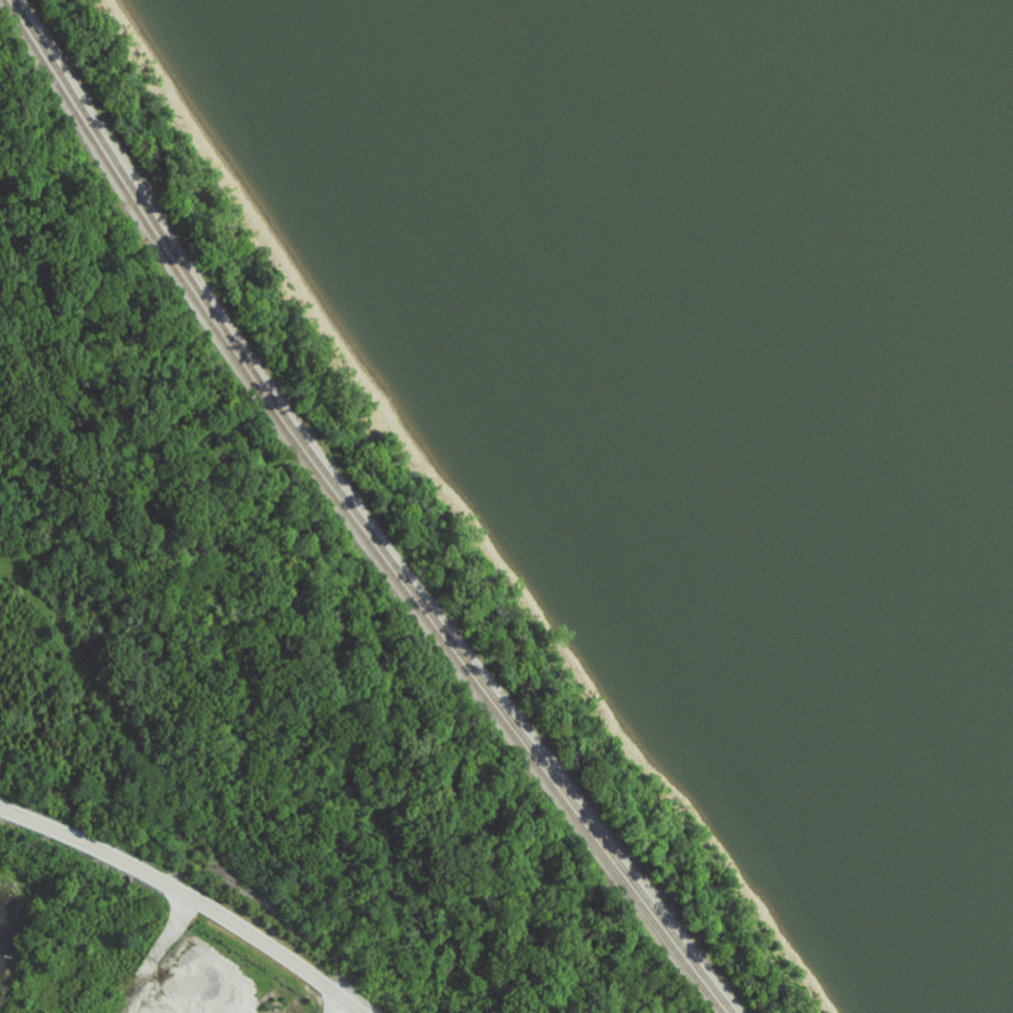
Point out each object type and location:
river: (841, 217)
railway: (348, 517)
railway: (359, 518)
road: (187, 896)

